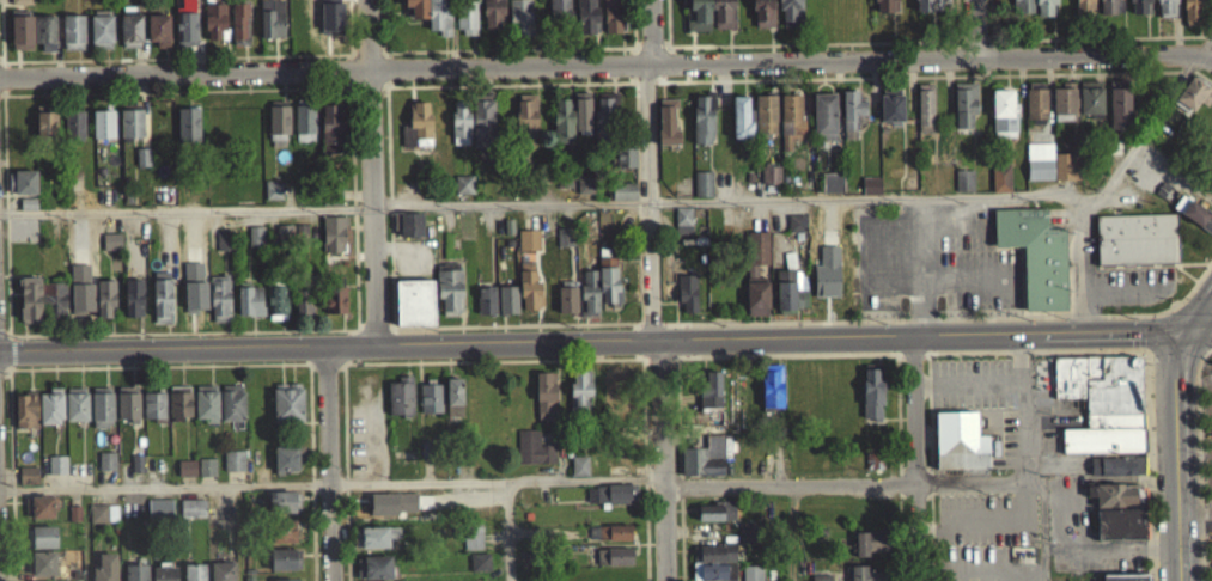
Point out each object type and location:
building: (20, 6)
building: (418, 8)
building: (928, 10)
building: (885, 11)
building: (1021, 11)
building: (1043, 11)
building: (1108, 11)
building: (1139, 11)
building: (1083, 12)
building: (1164, 12)
building: (589, 16)
building: (1192, 16)
building: (523, 17)
building: (790, 17)
building: (492, 18)
building: (559, 18)
building: (721, 18)
building: (762, 18)
building: (215, 19)
building: (696, 19)
building: (611, 20)
building: (188, 23)
building: (242, 23)
building: (465, 23)
road: (351, 25)
road: (385, 25)
road: (979, 26)
building: (270, 27)
building: (159, 29)
road: (2, 30)
building: (132, 30)
building: (47, 31)
building: (74, 31)
building: (102, 31)
road: (645, 31)
building: (20, 41)
road: (1204, 43)
road: (369, 48)
road: (505, 48)
road: (1, 56)
road: (177, 56)
road: (608, 63)
road: (391, 68)
road: (348, 69)
road: (7, 78)
road: (510, 84)
road: (178, 90)
road: (370, 90)
road: (2, 93)
building: (1192, 104)
building: (1064, 108)
building: (1089, 109)
building: (584, 111)
building: (1035, 111)
building: (963, 112)
building: (890, 115)
building: (1119, 115)
building: (924, 116)
building: (604, 118)
building: (565, 121)
building: (765, 122)
building: (851, 122)
building: (1003, 123)
building: (823, 126)
building: (741, 127)
building: (524, 128)
building: (702, 128)
building: (790, 129)
building: (44, 130)
building: (304, 130)
building: (130, 132)
building: (459, 132)
building: (481, 132)
building: (102, 133)
building: (187, 133)
building: (276, 133)
building: (73, 134)
building: (416, 134)
building: (329, 136)
building: (623, 165)
road: (371, 172)
building: (1049, 172)
building: (769, 182)
road: (1107, 182)
building: (999, 184)
building: (963, 189)
building: (24, 190)
building: (830, 191)
building: (701, 192)
building: (463, 194)
building: (870, 194)
road: (870, 196)
building: (272, 198)
building: (622, 200)
road: (650, 200)
road: (324, 206)
road: (355, 207)
road: (392, 207)
road: (8, 214)
building: (1194, 222)
building: (410, 224)
road: (964, 225)
building: (682, 227)
building: (794, 232)
building: (407, 234)
building: (1137, 237)
building: (291, 241)
building: (333, 243)
building: (564, 246)
building: (526, 249)
building: (110, 250)
building: (221, 250)
building: (1036, 253)
building: (756, 257)
road: (920, 263)
building: (608, 292)
building: (528, 296)
building: (31, 299)
building: (306, 300)
building: (449, 300)
building: (788, 300)
building: (587, 301)
building: (686, 302)
building: (218, 305)
building: (132, 306)
building: (160, 306)
building: (566, 306)
building: (755, 306)
building: (104, 307)
building: (334, 308)
building: (506, 308)
building: (248, 310)
building: (275, 310)
building: (485, 310)
building: (413, 311)
building: (303, 312)
road: (1202, 312)
road: (376, 322)
road: (514, 324)
traffic signals: (1193, 328)
road: (5, 330)
road: (184, 331)
road: (605, 338)
road: (349, 345)
road: (13, 351)
road: (491, 360)
road: (160, 366)
road: (328, 366)
road: (4, 369)
road: (968, 383)
building: (1103, 387)
building: (546, 393)
building: (579, 397)
building: (182, 400)
building: (452, 400)
building: (709, 400)
building: (208, 402)
building: (233, 402)
building: (613, 402)
building: (871, 402)
building: (78, 404)
road: (1022, 404)
building: (53, 405)
building: (428, 406)
building: (400, 408)
building: (286, 411)
building: (126, 412)
building: (152, 414)
building: (101, 416)
building: (24, 420)
building: (453, 420)
building: (535, 446)
building: (958, 451)
road: (1175, 452)
road: (915, 454)
building: (236, 459)
road: (664, 459)
road: (328, 463)
building: (59, 464)
building: (209, 465)
building: (872, 465)
building: (189, 466)
building: (702, 466)
building: (285, 469)
building: (105, 470)
building: (233, 470)
road: (347, 471)
road: (312, 472)
road: (13, 473)
building: (55, 473)
building: (579, 475)
building: (615, 475)
building: (1115, 475)
building: (206, 476)
building: (185, 477)
road: (854, 482)
building: (26, 484)
road: (313, 484)
building: (1111, 503)
building: (42, 507)
building: (282, 510)
road: (1194, 512)
building: (75, 513)
building: (158, 516)
building: (191, 518)
building: (714, 520)
building: (97, 522)
road: (510, 531)
building: (1119, 532)
road: (87, 534)
building: (281, 540)
building: (608, 542)
building: (471, 544)
building: (42, 546)
building: (370, 546)
building: (869, 551)
building: (42, 564)
building: (617, 565)
building: (713, 567)
building: (284, 568)
building: (376, 568)
building: (479, 570)
building: (104, 571)
building: (221, 575)
building: (133, 576)
building: (193, 576)
building: (163, 577)
building: (751, 577)
building: (866, 577)

